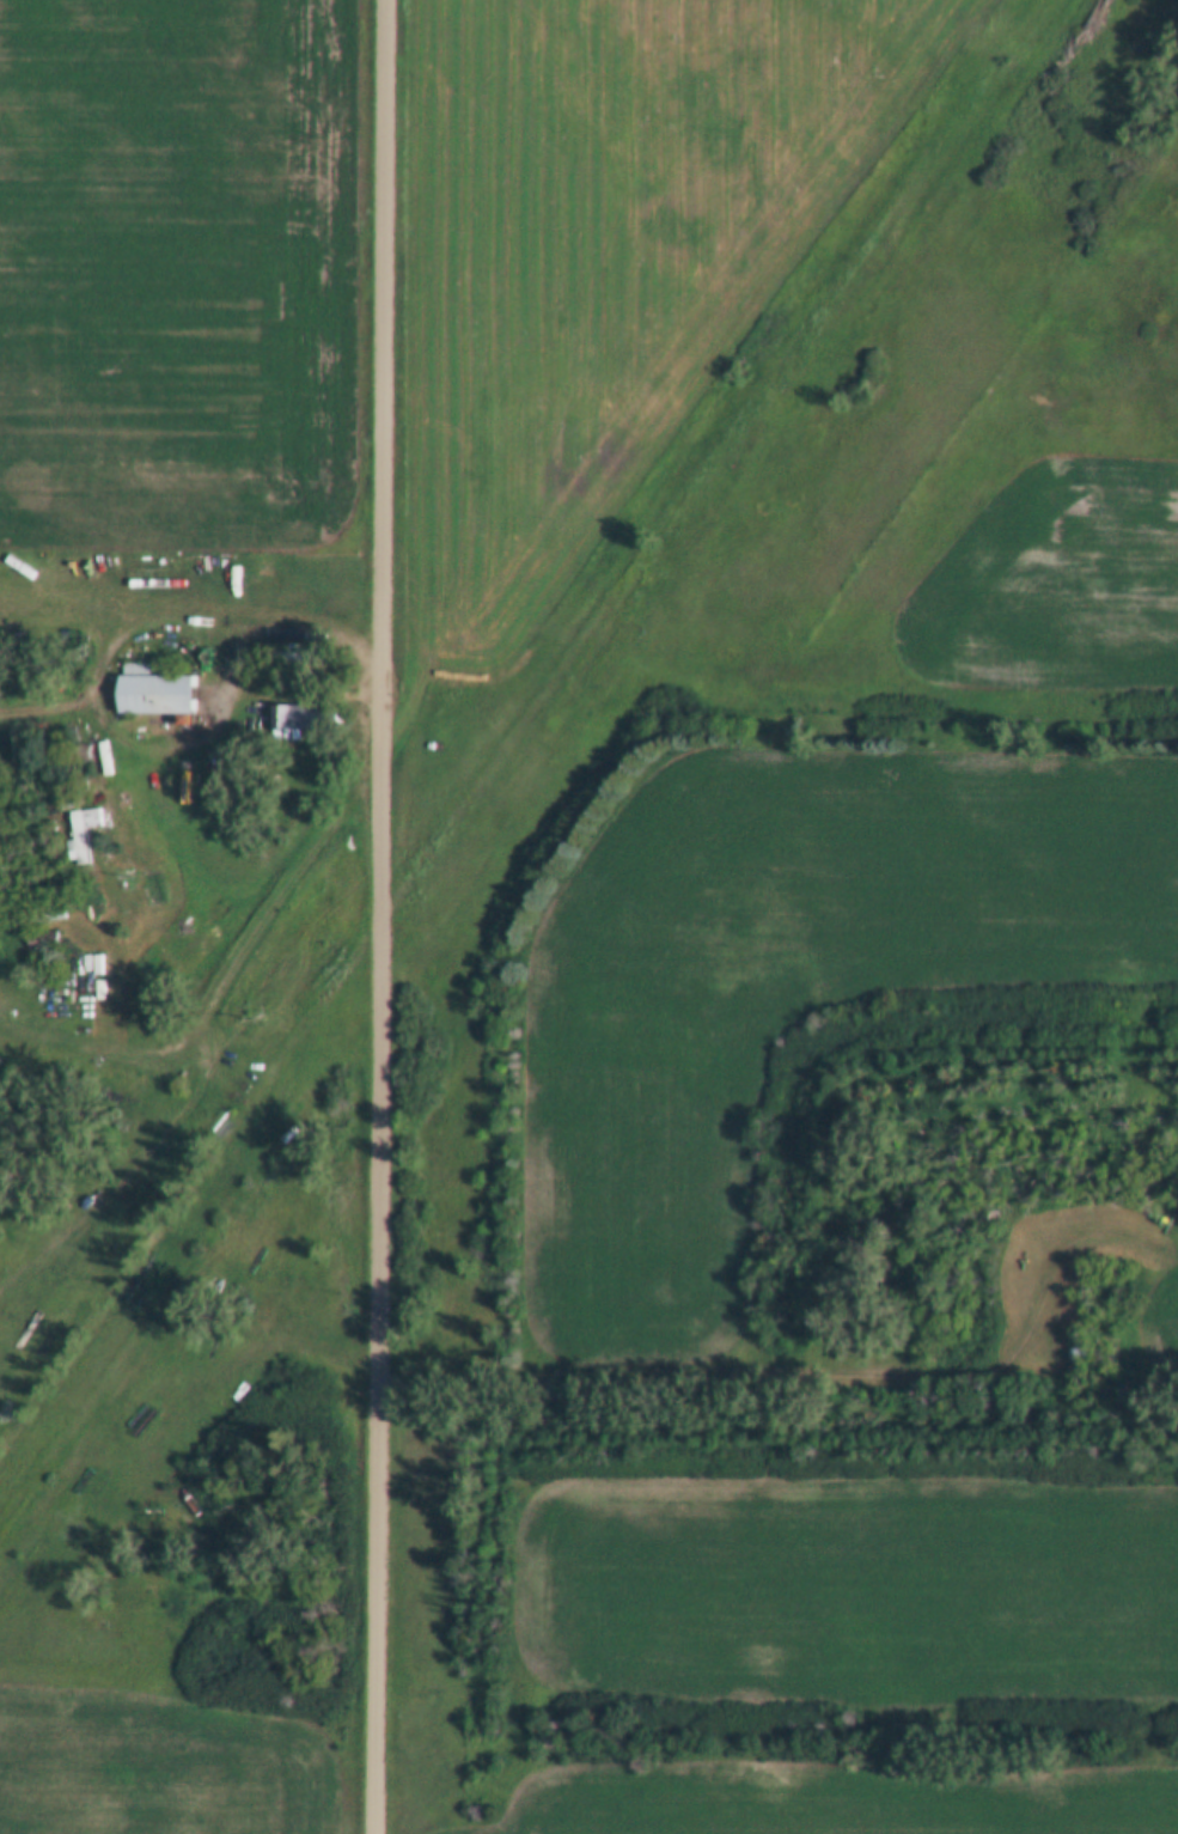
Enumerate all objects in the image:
road: (297, 686)
building: (157, 691)
building: (287, 715)
building: (84, 828)
road: (385, 916)
building: (41, 938)

